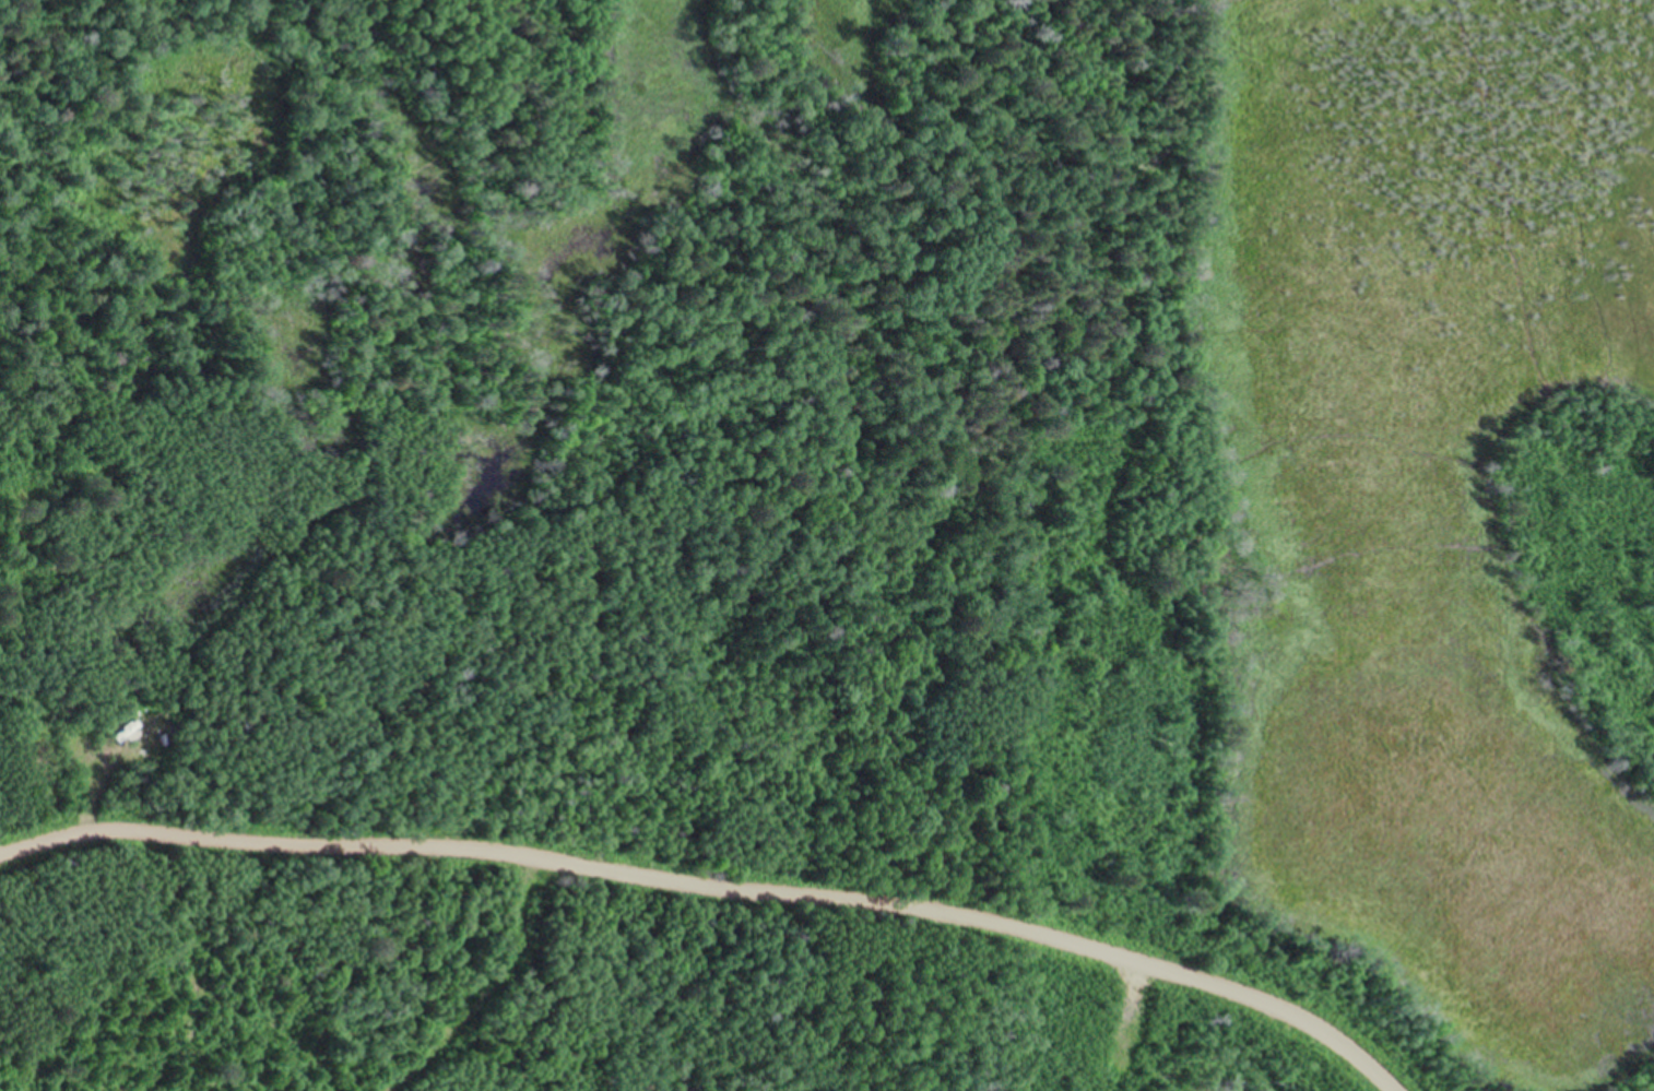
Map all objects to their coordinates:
road: (709, 894)

